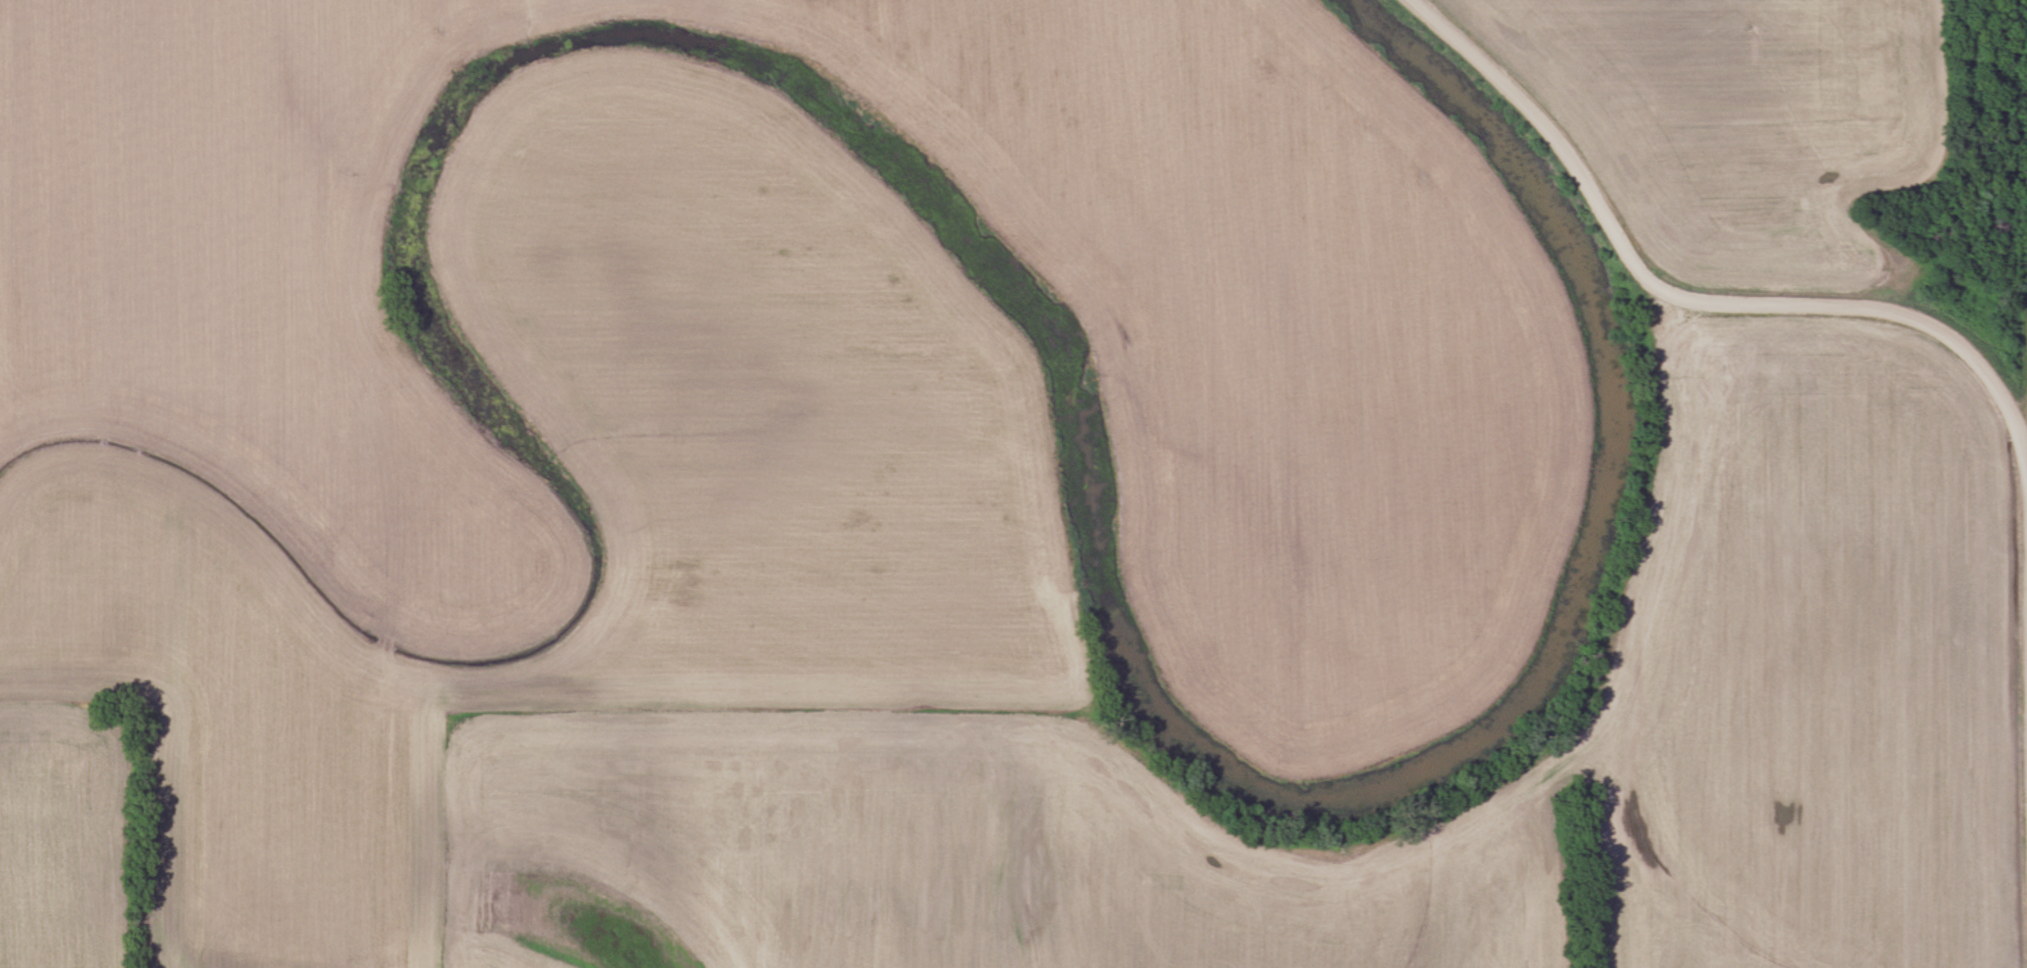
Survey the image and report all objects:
road: (1692, 290)

